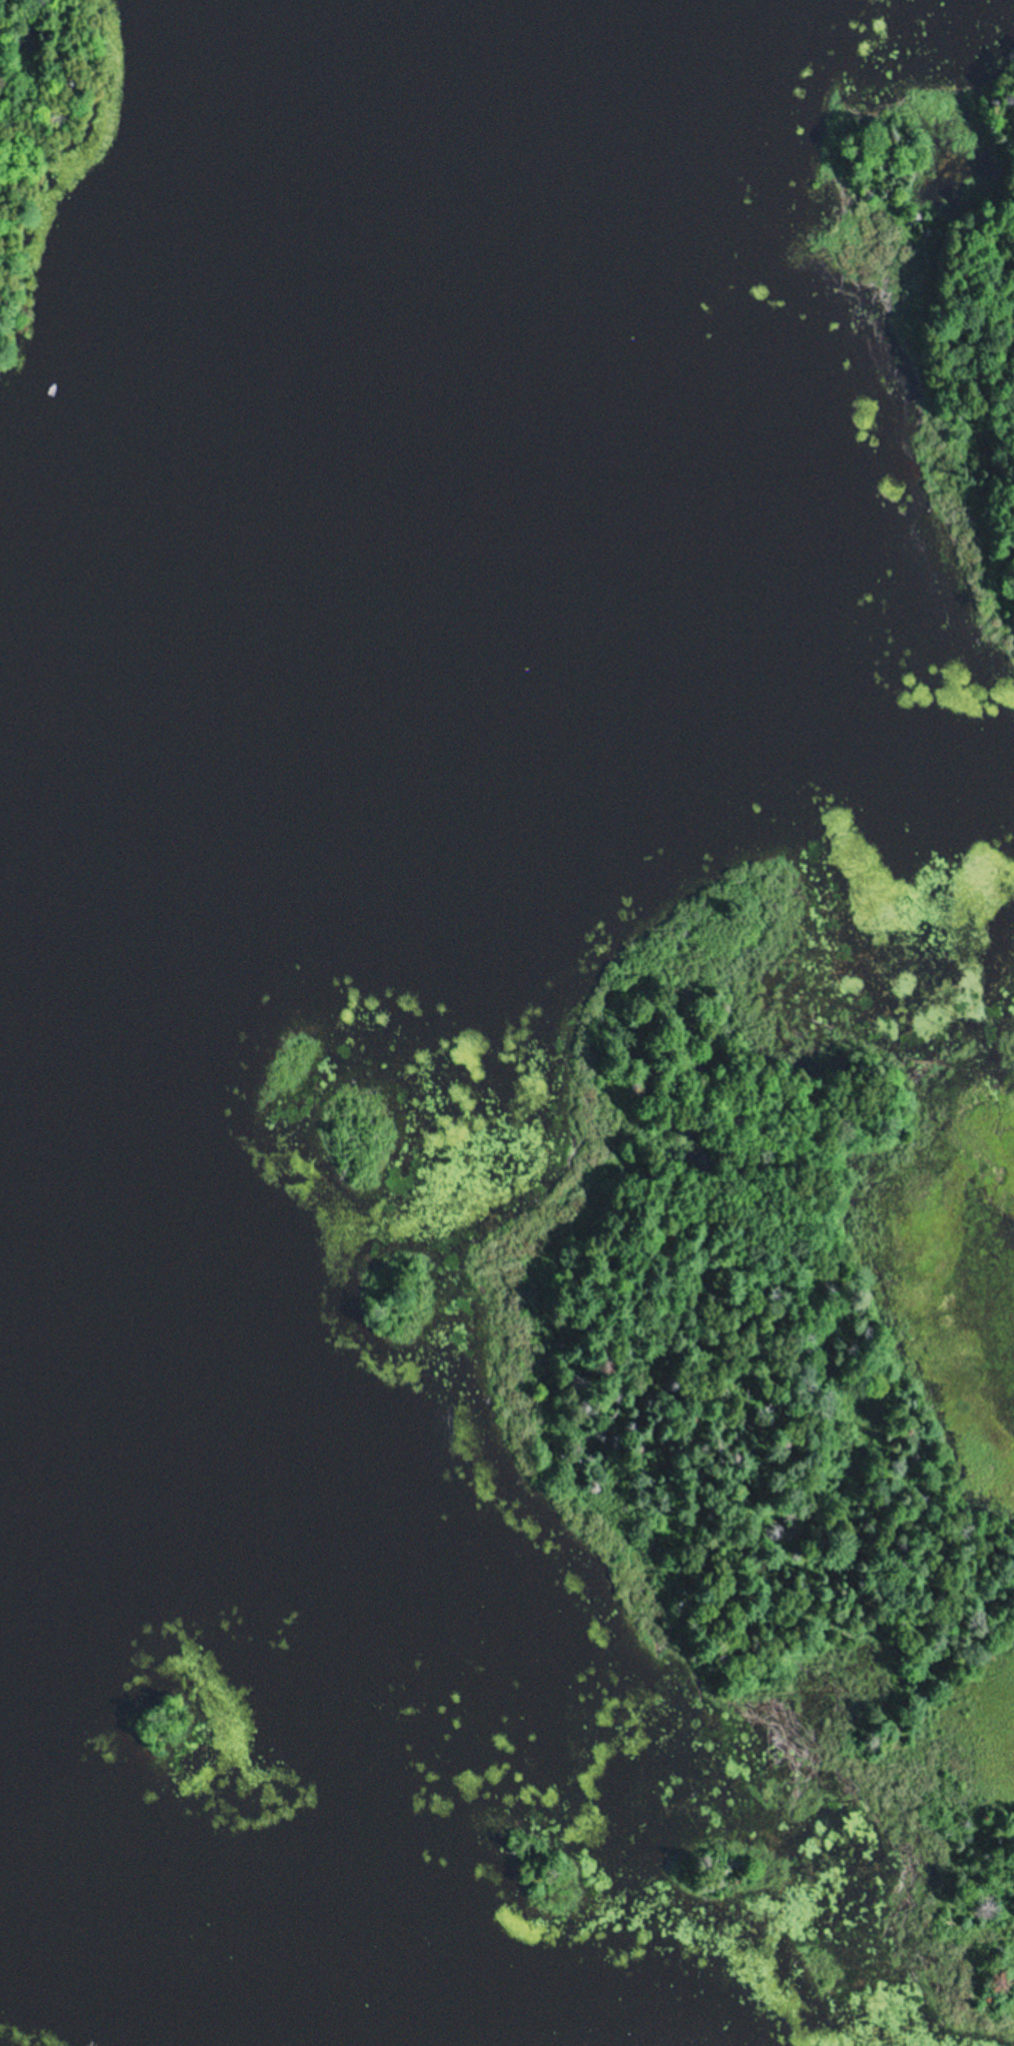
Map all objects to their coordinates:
river: (258, 555)
river: (20, 1516)

